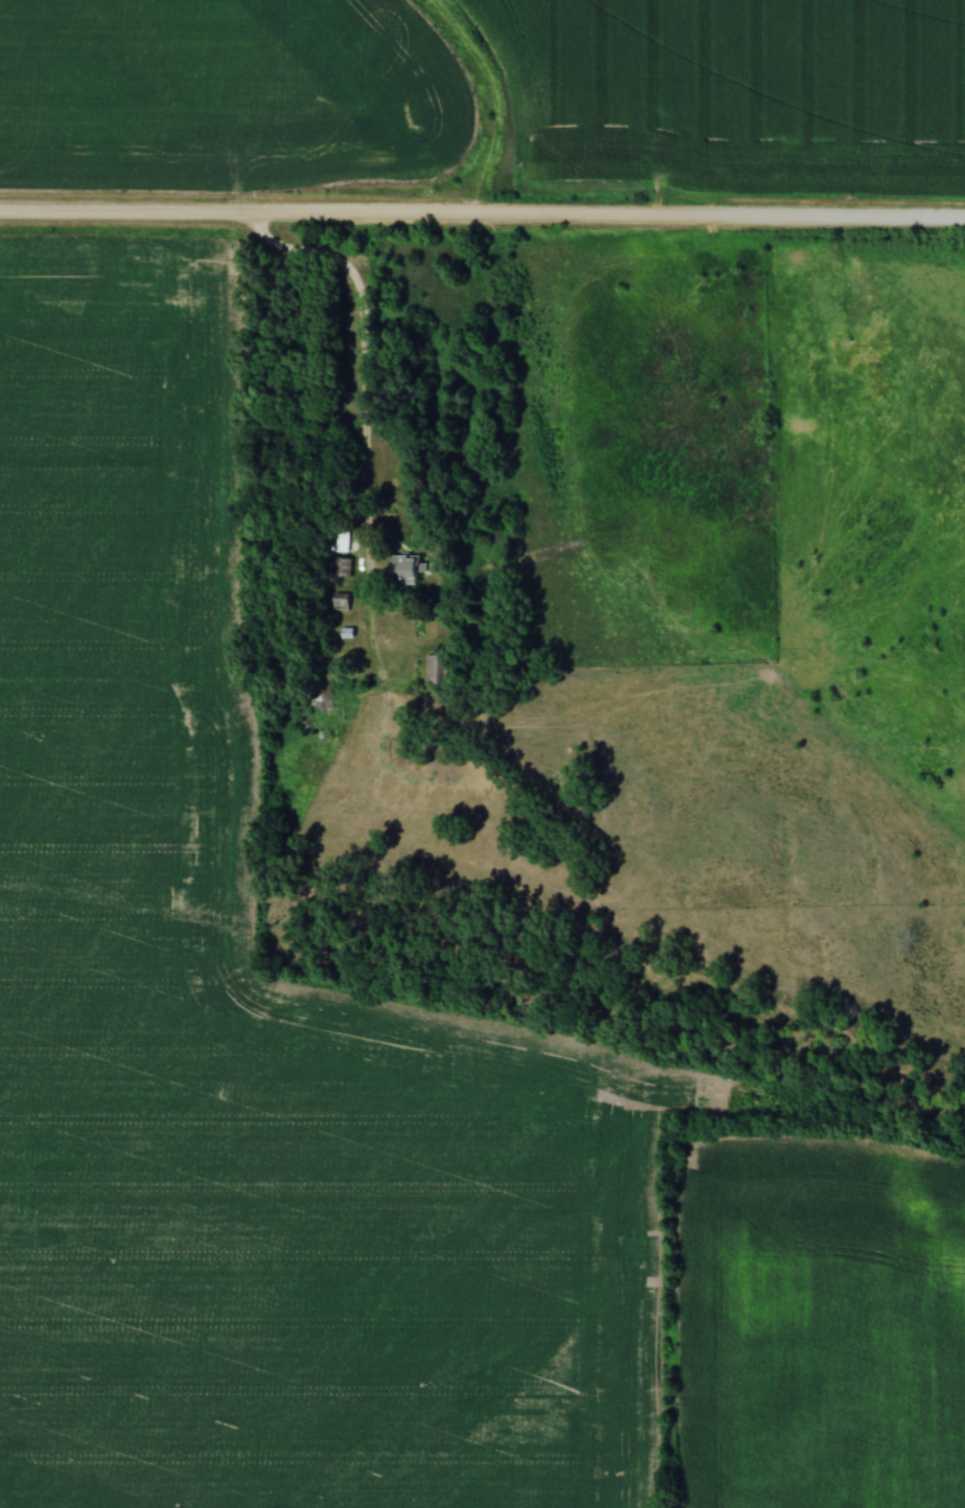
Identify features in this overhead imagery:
road: (482, 216)
road: (366, 385)
building: (341, 540)
building: (402, 567)
building: (341, 602)
building: (438, 667)

